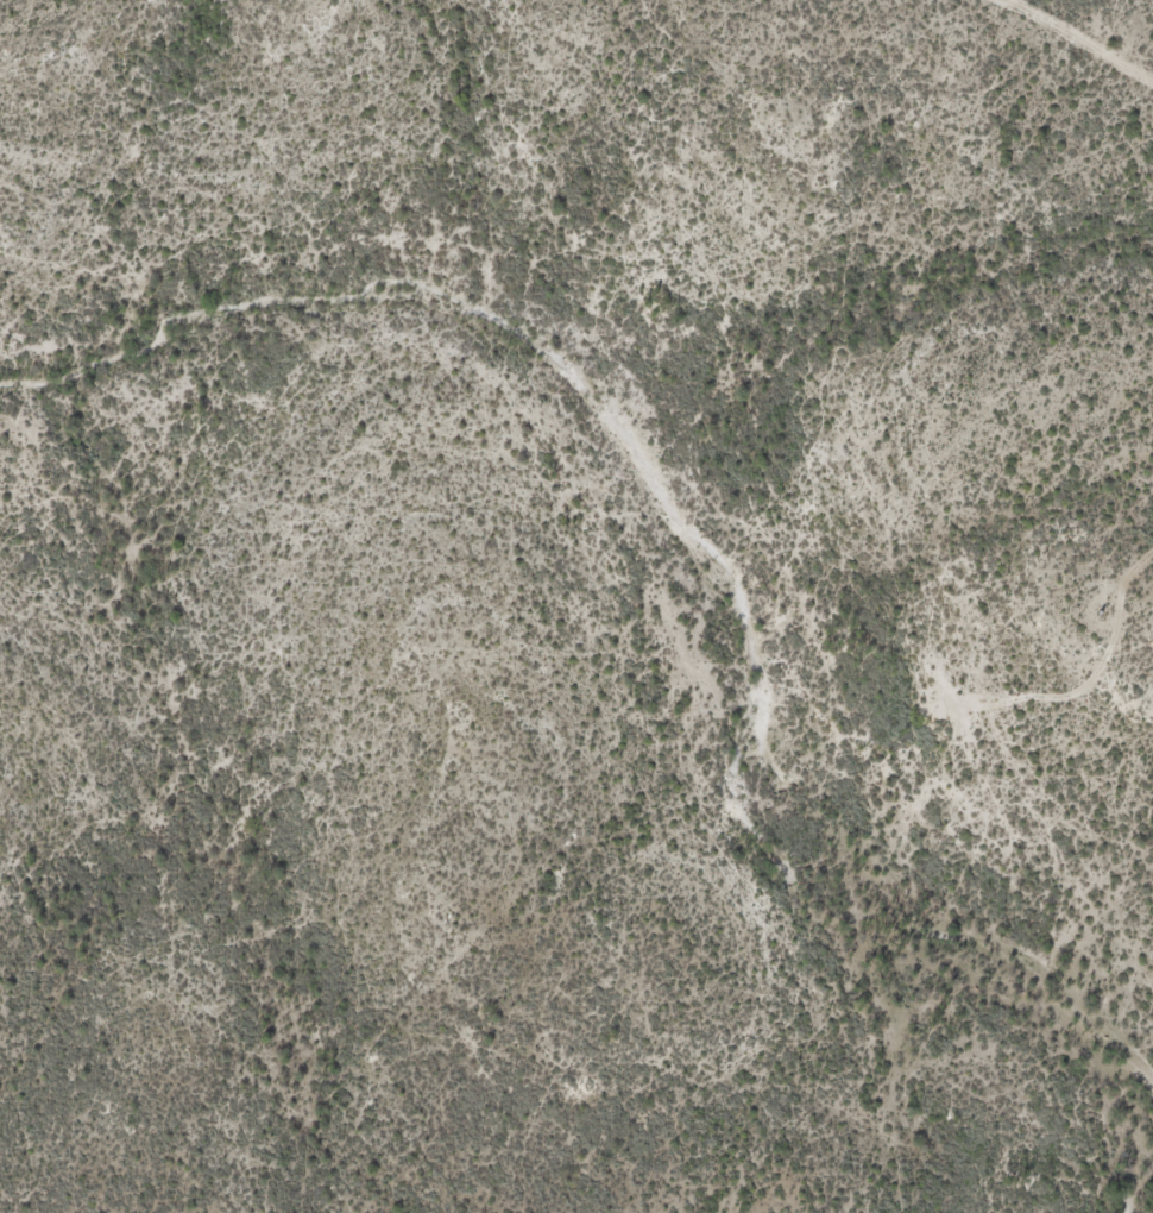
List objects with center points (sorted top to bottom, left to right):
road: (1084, 39)

